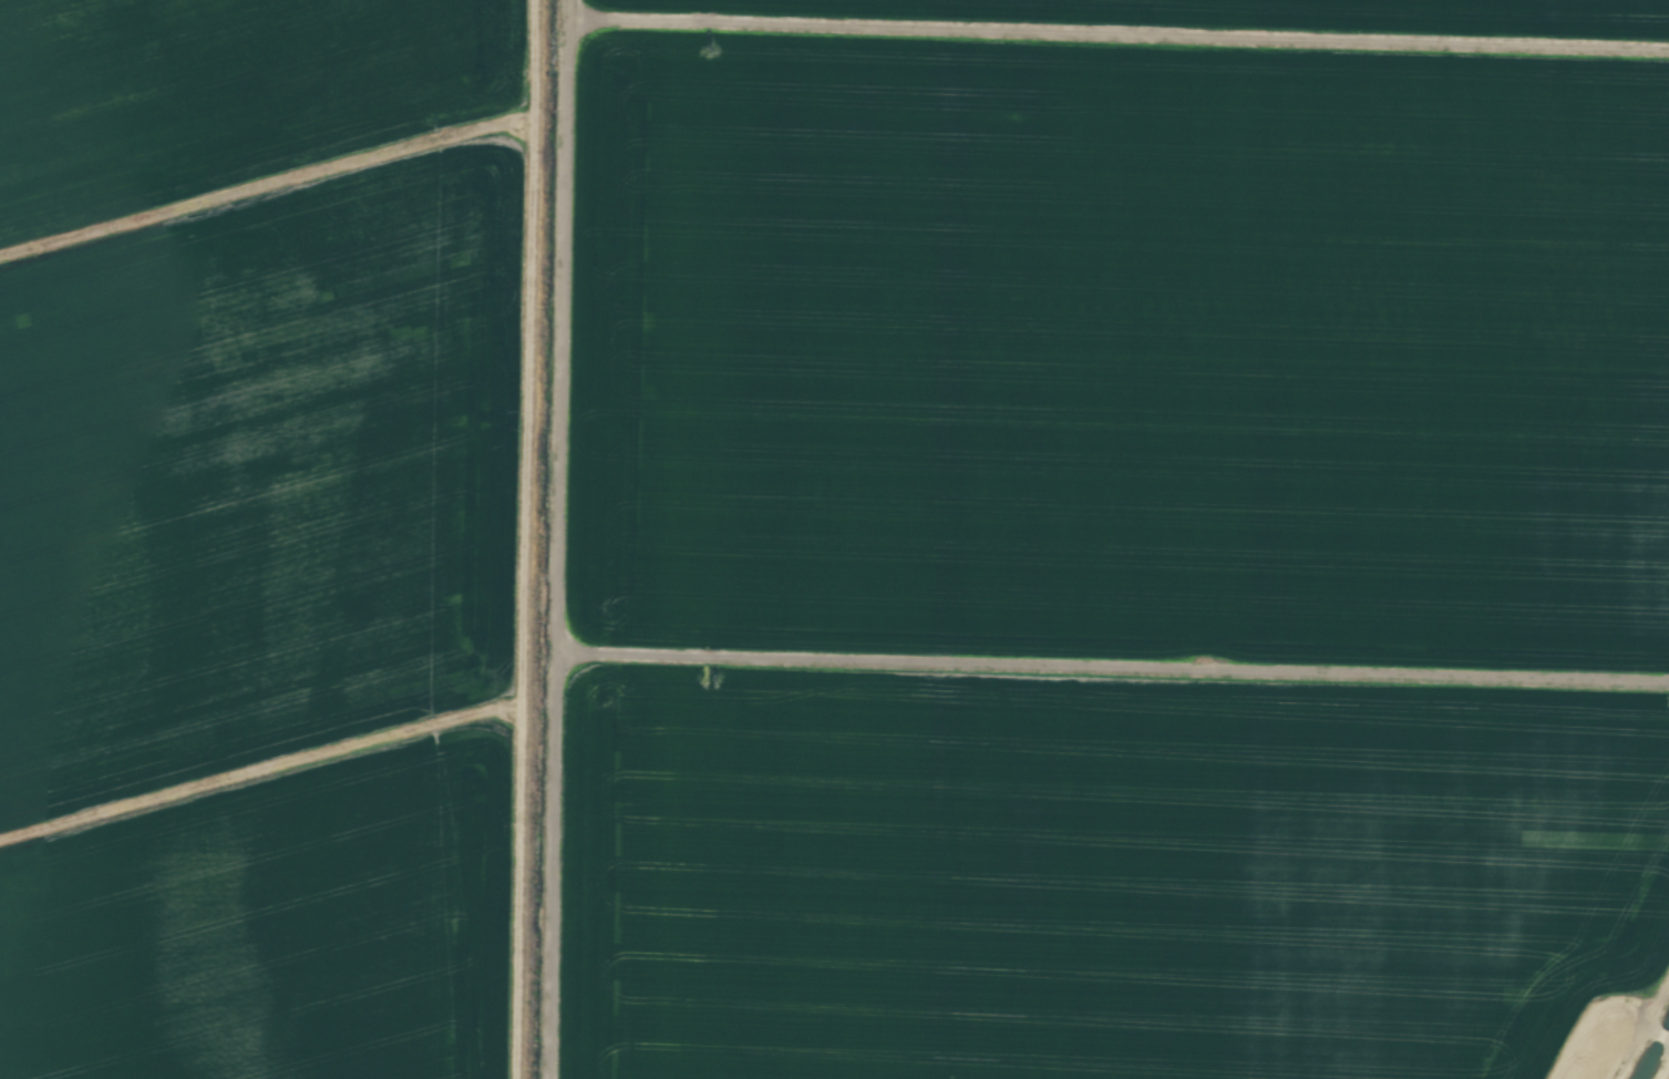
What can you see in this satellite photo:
road: (524, 539)

